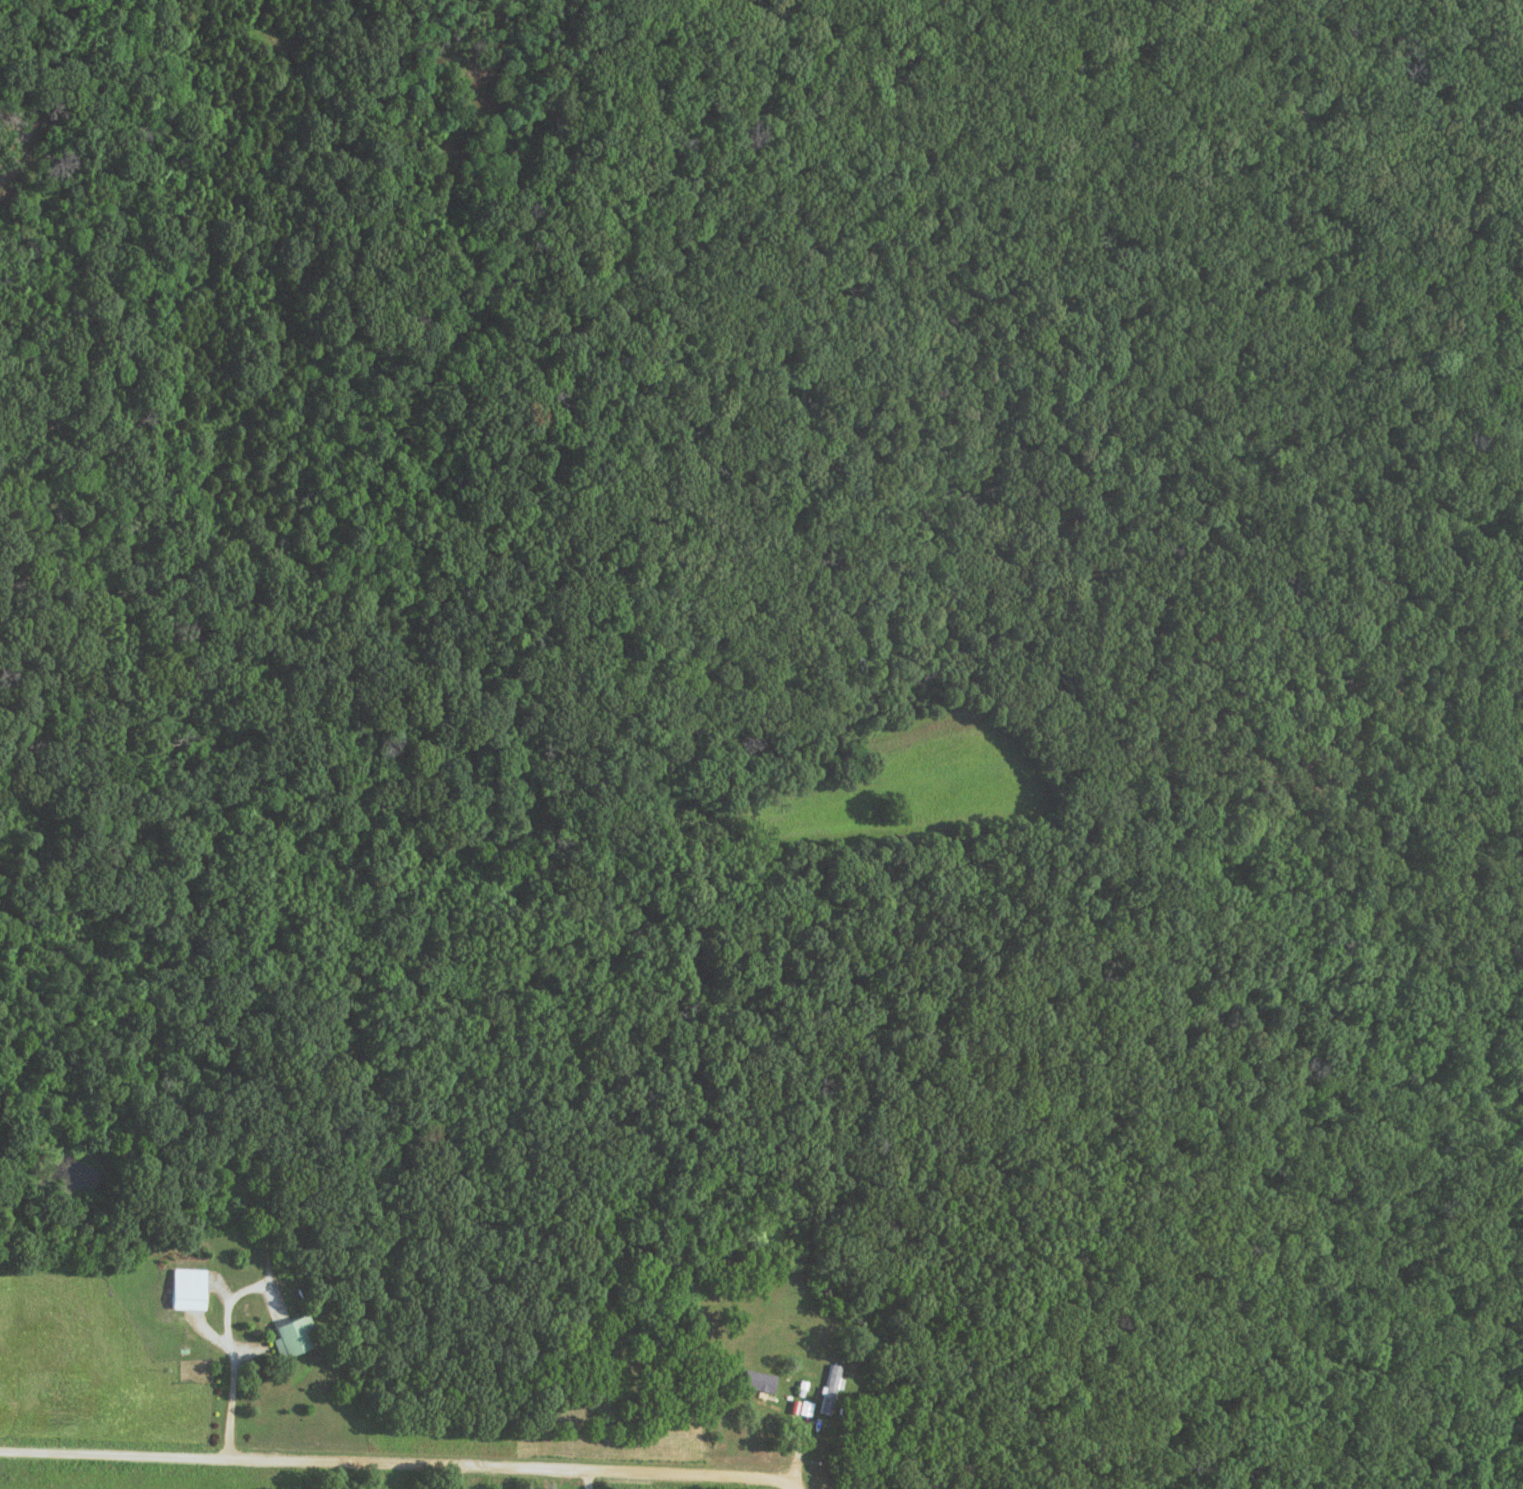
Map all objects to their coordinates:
building: (189, 1289)
building: (294, 1337)
building: (758, 1381)
road: (402, 1463)
road: (592, 1480)

